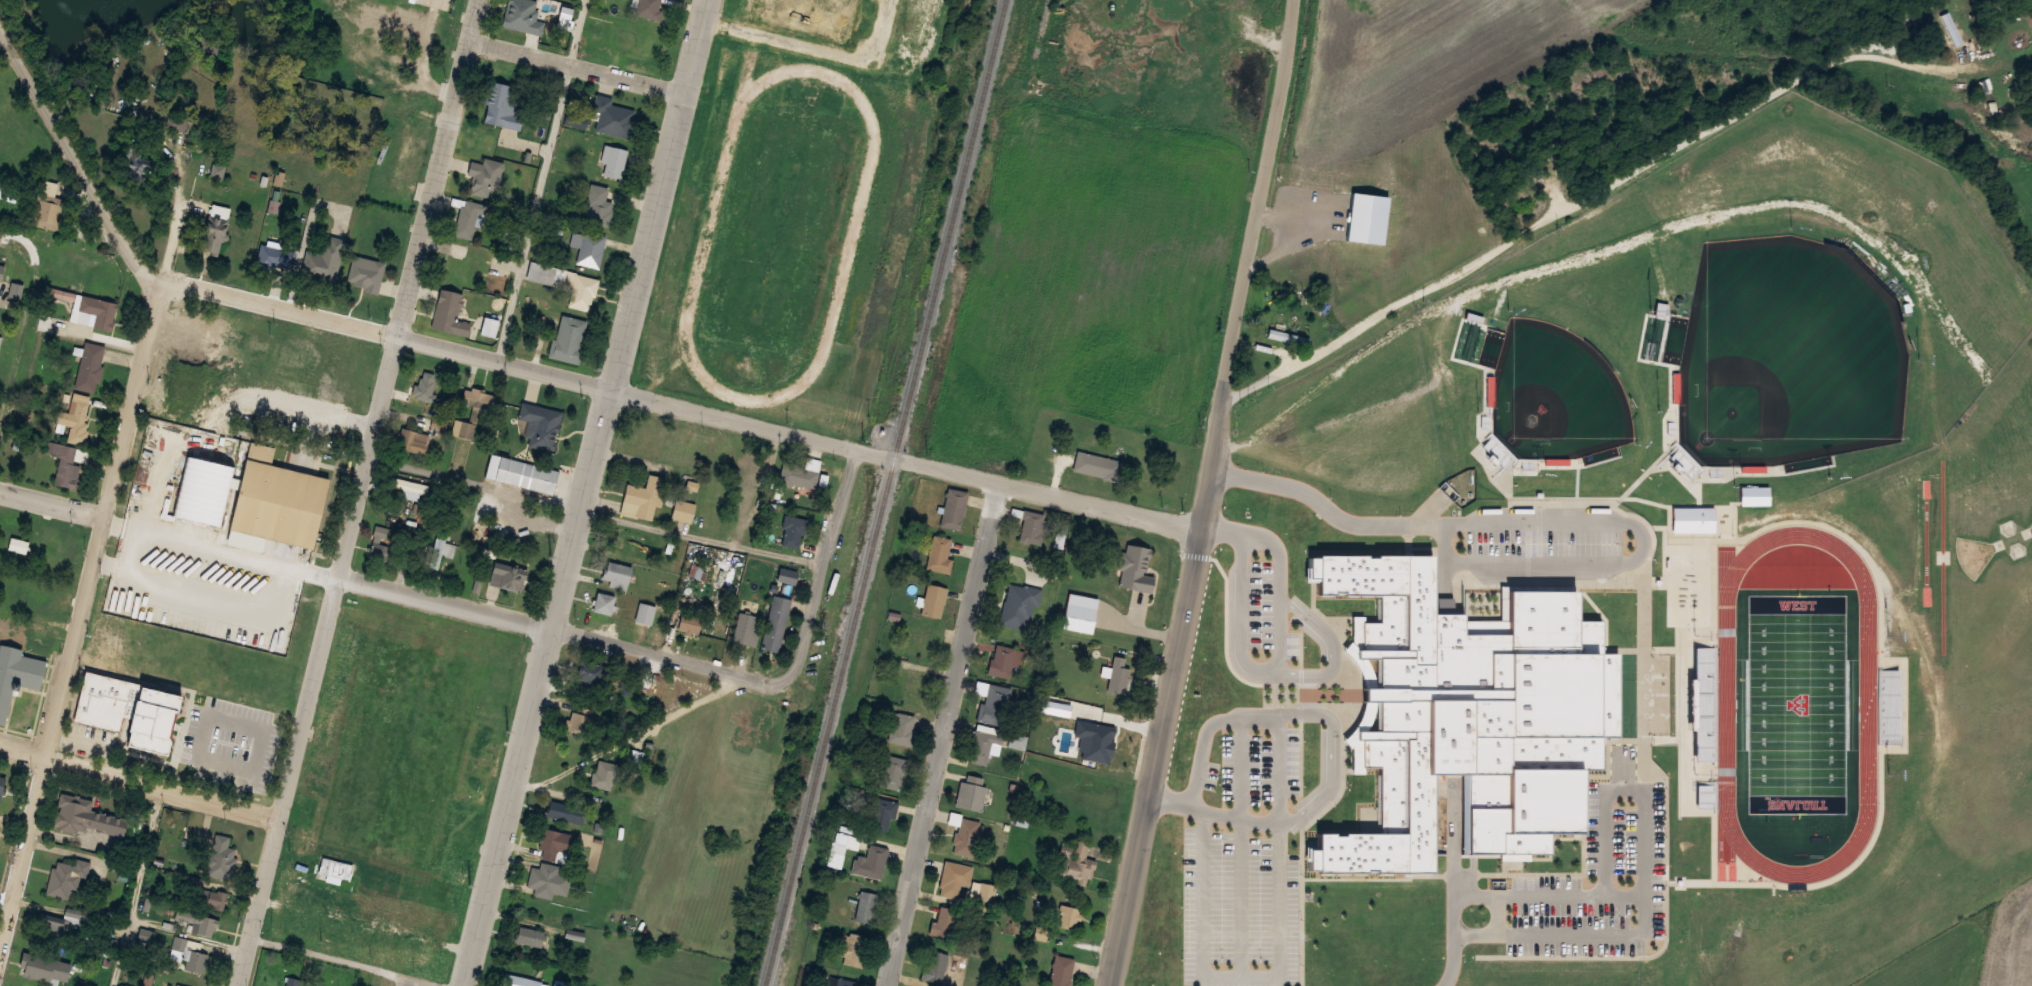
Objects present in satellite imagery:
building: (391, 8)
building: (648, 8)
building: (527, 11)
building: (805, 16)
railway: (1043, 27)
building: (1955, 34)
building: (634, 35)
road: (817, 47)
road: (578, 67)
building: (501, 89)
building: (912, 99)
track: (714, 112)
track: (724, 114)
building: (615, 117)
building: (576, 120)
crop: (1407, 127)
building: (491, 132)
road: (76, 158)
building: (614, 160)
building: (135, 161)
building: (216, 171)
building: (484, 175)
road: (544, 181)
building: (1529, 189)
building: (9, 193)
power tower: (642, 193)
road: (1580, 203)
building: (596, 205)
building: (49, 211)
building: (468, 214)
park: (781, 230)
track: (855, 230)
building: (214, 234)
park: (780, 235)
building: (291, 238)
building: (505, 242)
building: (835, 246)
building: (591, 249)
building: (543, 251)
building: (266, 252)
building: (322, 263)
building: (461, 264)
building: (1, 270)
building: (368, 270)
crop: (1089, 281)
building: (15, 291)
building: (585, 291)
building: (61, 293)
building: (670, 308)
building: (449, 311)
building: (100, 312)
building: (568, 331)
building: (1281, 331)
road: (388, 334)
parking lot: (267, 353)
park: (1788, 359)
building: (90, 366)
building: (190, 368)
power tower: (599, 368)
building: (237, 376)
building: (428, 379)
building: (477, 397)
park: (1554, 398)
building: (77, 416)
building: (552, 420)
road: (754, 424)
building: (437, 427)
building: (463, 429)
building: (414, 440)
building: (543, 440)
building: (682, 440)
building: (654, 443)
building: (178, 450)
building: (259, 452)
building: (300, 458)
building: (752, 462)
building: (1097, 466)
building: (67, 467)
building: (669, 469)
building: (796, 474)
building: (524, 475)
building: (748, 480)
building: (411, 489)
building: (199, 490)
road: (360, 492)
road: (1048, 492)
road: (588, 493)
railway: (887, 493)
road: (1205, 493)
building: (642, 497)
building: (804, 499)
building: (742, 501)
road: (52, 502)
building: (279, 503)
building: (954, 507)
building: (683, 510)
road: (1325, 510)
road: (595, 513)
building: (794, 525)
building: (1030, 529)
building: (382, 530)
building: (1060, 536)
building: (622, 540)
road: (1248, 540)
building: (671, 546)
building: (441, 547)
building: (938, 553)
power tower: (552, 556)
building: (186, 557)
road: (93, 558)
building: (1136, 558)
road: (1634, 559)
road: (823, 563)
building: (1025, 572)
building: (618, 574)
building: (509, 575)
parking lot: (122, 577)
building: (786, 582)
road: (231, 593)
building: (933, 599)
building: (603, 602)
parking lot: (271, 604)
building: (169, 607)
road: (279, 609)
building: (644, 613)
building: (1012, 613)
building: (895, 616)
building: (212, 621)
building: (688, 622)
building: (775, 623)
parking lot: (1262, 628)
building: (746, 630)
building: (36, 631)
road: (565, 632)
building: (918, 639)
building: (352, 640)
building: (148, 642)
road: (1331, 652)
building: (1683, 660)
building: (1004, 661)
building: (217, 663)
building: (156, 669)
building: (589, 671)
building: (17, 674)
building: (1117, 675)
road: (1248, 676)
building: (212, 680)
building: (910, 684)
building: (234, 686)
building: (994, 705)
track: (1867, 705)
building: (123, 708)
park: (1796, 708)
building: (1463, 723)
building: (578, 724)
building: (333, 727)
building: (901, 727)
power tower: (510, 732)
road: (946, 734)
building: (1100, 735)
road: (632, 736)
building: (230, 739)
park: (407, 740)
building: (1016, 740)
building: (982, 745)
road: (1331, 753)
building: (475, 762)
building: (892, 771)
building: (604, 774)
road: (1622, 778)
building: (5, 780)
road: (140, 781)
park: (397, 786)
building: (972, 792)
building: (565, 813)
building: (882, 813)
building: (82, 816)
building: (963, 835)
building: (175, 836)
building: (301, 839)
building: (553, 840)
road: (1242, 849)
parking lot: (1244, 854)
building: (870, 862)
building: (1075, 862)
building: (337, 871)
building: (67, 877)
building: (954, 878)
building: (549, 880)
power tower: (472, 885)
road: (136, 886)
road: (1643, 892)
building: (981, 895)
road: (1452, 899)
building: (217, 900)
road: (1547, 900)
building: (866, 906)
building: (74, 914)
building: (1068, 916)
building: (51, 920)
park: (401, 920)
road: (1496, 920)
building: (943, 921)
building: (198, 922)
building: (147, 934)
building: (530, 935)
crop: (1959, 944)
building: (186, 946)
building: (853, 948)
building: (197, 961)
road: (346, 963)
building: (43, 968)
building: (935, 968)
road: (1279, 969)
building: (1060, 970)
building: (294, 981)
building: (522, 981)
parking lot: (410, 982)
building: (840, 982)
building: (123, 985)
road: (437, 985)

